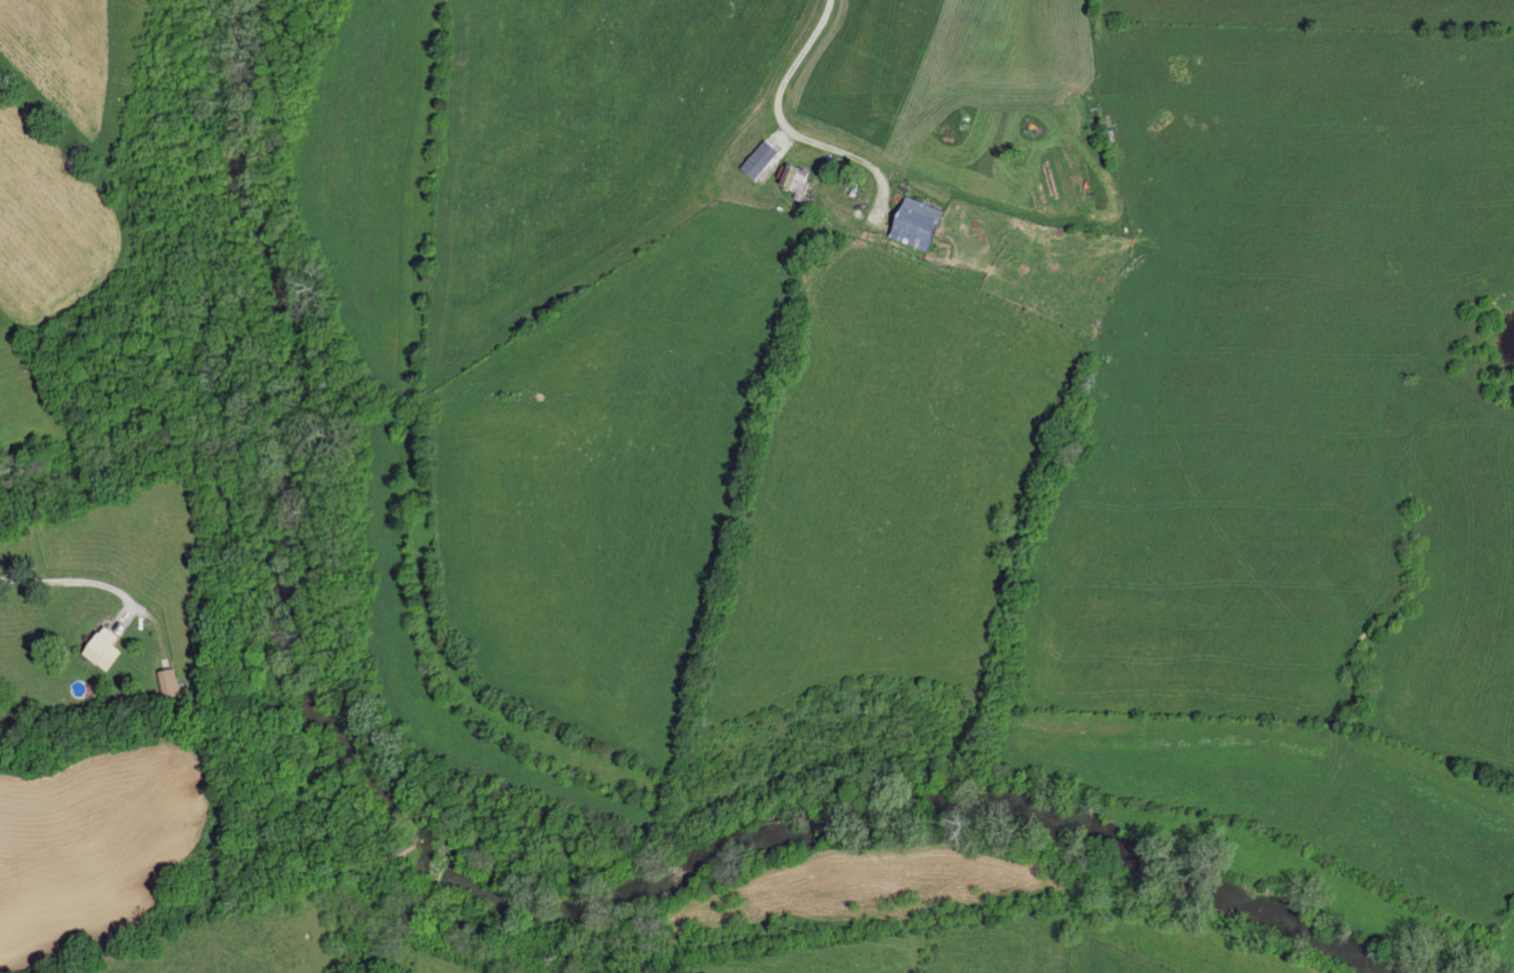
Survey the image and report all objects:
road: (776, 118)
building: (761, 160)
building: (795, 180)
building: (918, 224)
road: (69, 580)
building: (108, 648)
building: (175, 682)

